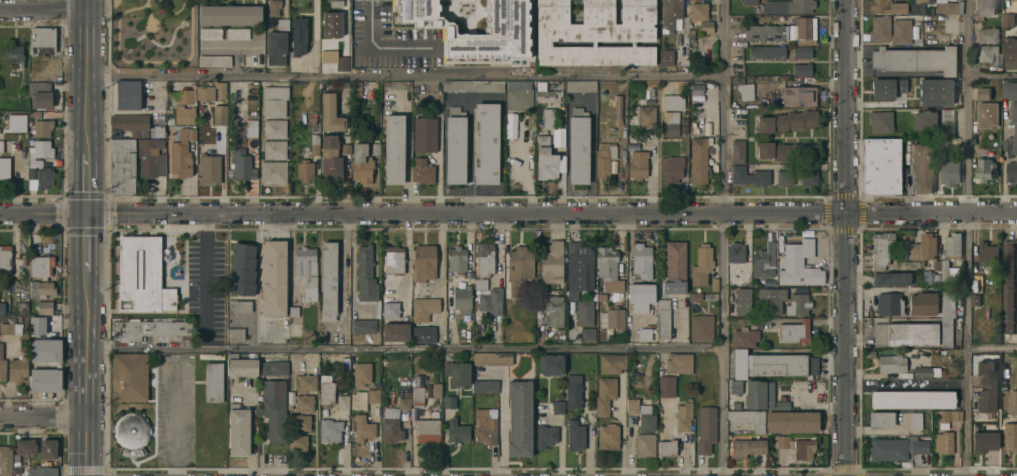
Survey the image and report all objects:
building: (951, 0)
building: (1013, 1)
building: (750, 2)
building: (336, 3)
road: (1006, 4)
building: (917, 6)
building: (789, 7)
building: (886, 7)
building: (275, 8)
building: (949, 8)
building: (984, 9)
road: (44, 10)
building: (672, 12)
building: (698, 12)
building: (230, 16)
building: (1006, 21)
building: (283, 25)
building: (472, 25)
building: (901, 26)
building: (705, 28)
building: (805, 32)
building: (596, 33)
building: (765, 33)
building: (211, 34)
building: (238, 34)
building: (299, 36)
building: (988, 36)
road: (315, 37)
building: (43, 41)
road: (377, 48)
building: (276, 49)
building: (767, 53)
building: (801, 53)
building: (1010, 54)
building: (16, 55)
building: (988, 55)
building: (666, 57)
building: (915, 60)
building: (214, 61)
building: (342, 64)
building: (802, 71)
road: (406, 73)
road: (88, 76)
road: (992, 76)
building: (518, 84)
building: (581, 86)
building: (473, 87)
building: (220, 91)
building: (745, 91)
building: (1009, 91)
building: (884, 92)
building: (275, 93)
building: (203, 94)
building: (128, 95)
building: (983, 95)
building: (40, 96)
building: (186, 97)
building: (546, 97)
building: (799, 97)
building: (950, 99)
building: (519, 100)
building: (672, 102)
building: (327, 106)
building: (274, 109)
building: (250, 111)
building: (618, 111)
building: (184, 116)
building: (220, 116)
building: (987, 116)
building: (646, 118)
building: (924, 121)
building: (787, 122)
building: (880, 122)
building: (946, 123)
building: (15, 125)
building: (129, 125)
building: (670, 125)
building: (41, 129)
building: (275, 129)
building: (1014, 129)
building: (157, 132)
building: (191, 134)
building: (425, 135)
building: (487, 144)
building: (314, 146)
building: (455, 146)
building: (1, 147)
building: (579, 147)
road: (592, 148)
building: (275, 150)
building: (394, 150)
building: (738, 151)
building: (786, 152)
building: (39, 153)
building: (148, 156)
building: (330, 159)
building: (547, 159)
building: (180, 160)
building: (604, 160)
building: (698, 161)
building: (361, 164)
building: (242, 165)
building: (638, 165)
building: (881, 166)
building: (19, 167)
building: (122, 167)
building: (922, 168)
road: (1003, 168)
building: (4, 169)
building: (674, 169)
building: (209, 170)
building: (305, 170)
building: (983, 170)
building: (422, 172)
building: (1011, 172)
building: (32, 173)
building: (274, 173)
road: (528, 173)
building: (950, 174)
building: (750, 177)
building: (785, 178)
building: (44, 179)
building: (808, 179)
road: (87, 183)
traffic signals: (87, 214)
road: (508, 214)
road: (844, 237)
road: (724, 238)
road: (967, 238)
road: (87, 241)
building: (953, 249)
building: (880, 250)
building: (930, 251)
building: (735, 254)
building: (987, 256)
building: (486, 259)
building: (5, 260)
building: (394, 260)
building: (457, 260)
building: (642, 260)
building: (764, 262)
building: (553, 263)
building: (607, 263)
building: (701, 265)
building: (423, 266)
building: (799, 266)
building: (41, 267)
building: (675, 268)
building: (243, 269)
building: (306, 270)
road: (441, 270)
building: (579, 270)
building: (520, 271)
building: (944, 271)
road: (205, 275)
building: (142, 276)
building: (366, 276)
road: (346, 277)
building: (738, 277)
building: (274, 279)
building: (891, 280)
building: (328, 282)
building: (481, 284)
building: (714, 284)
parking lot: (209, 287)
building: (1008, 289)
building: (41, 290)
building: (615, 292)
building: (695, 296)
building: (641, 297)
building: (462, 298)
building: (770, 300)
building: (743, 301)
building: (492, 302)
building: (948, 303)
building: (923, 304)
building: (798, 305)
building: (889, 305)
building: (242, 307)
building: (45, 308)
building: (424, 308)
building: (2, 309)
building: (391, 311)
building: (554, 311)
building: (585, 313)
building: (613, 319)
building: (663, 320)
building: (36, 326)
building: (363, 326)
building: (701, 328)
building: (10, 329)
building: (150, 330)
building: (396, 332)
building: (794, 333)
building: (946, 333)
building: (235, 334)
building: (906, 334)
building: (428, 335)
building: (587, 335)
building: (645, 335)
building: (744, 338)
road: (406, 348)
road: (992, 350)
road: (799, 353)
building: (492, 360)
building: (551, 364)
building: (612, 364)
building: (679, 364)
building: (891, 364)
building: (2, 365)
building: (242, 365)
building: (773, 365)
building: (57, 366)
building: (17, 369)
building: (273, 369)
road: (87, 372)
building: (925, 373)
building: (362, 374)
building: (458, 374)
building: (129, 378)
building: (214, 382)
building: (308, 382)
building: (634, 385)
building: (667, 386)
building: (485, 387)
building: (326, 389)
building: (437, 390)
building: (573, 392)
building: (759, 394)
building: (605, 395)
building: (736, 395)
building: (373, 396)
building: (418, 396)
building: (359, 400)
building: (912, 400)
building: (449, 401)
building: (981, 401)
building: (304, 402)
building: (343, 402)
building: (1013, 402)
building: (404, 405)
building: (632, 406)
building: (782, 406)
building: (559, 407)
parking lot: (177, 409)
building: (274, 410)
road: (175, 413)
road: (502, 415)
building: (645, 415)
road: (43, 416)
building: (684, 416)
building: (948, 418)
building: (520, 419)
building: (748, 419)
building: (881, 420)
building: (915, 421)
building: (792, 422)
building: (301, 423)
building: (391, 427)
building: (485, 428)
building: (363, 429)
building: (330, 430)
building: (427, 430)
building: (706, 430)
building: (238, 431)
building: (457, 432)
building: (132, 434)
building: (984, 435)
building: (576, 436)
building: (546, 437)
building: (609, 437)
road: (680, 437)
building: (1010, 437)
road: (560, 438)
building: (784, 442)
building: (943, 443)
building: (298, 444)
building: (917, 445)
building: (645, 446)
building: (26, 447)
building: (747, 447)
building: (667, 448)
building: (48, 449)
building: (803, 449)
building: (888, 450)
building: (5, 461)
building: (46, 472)

